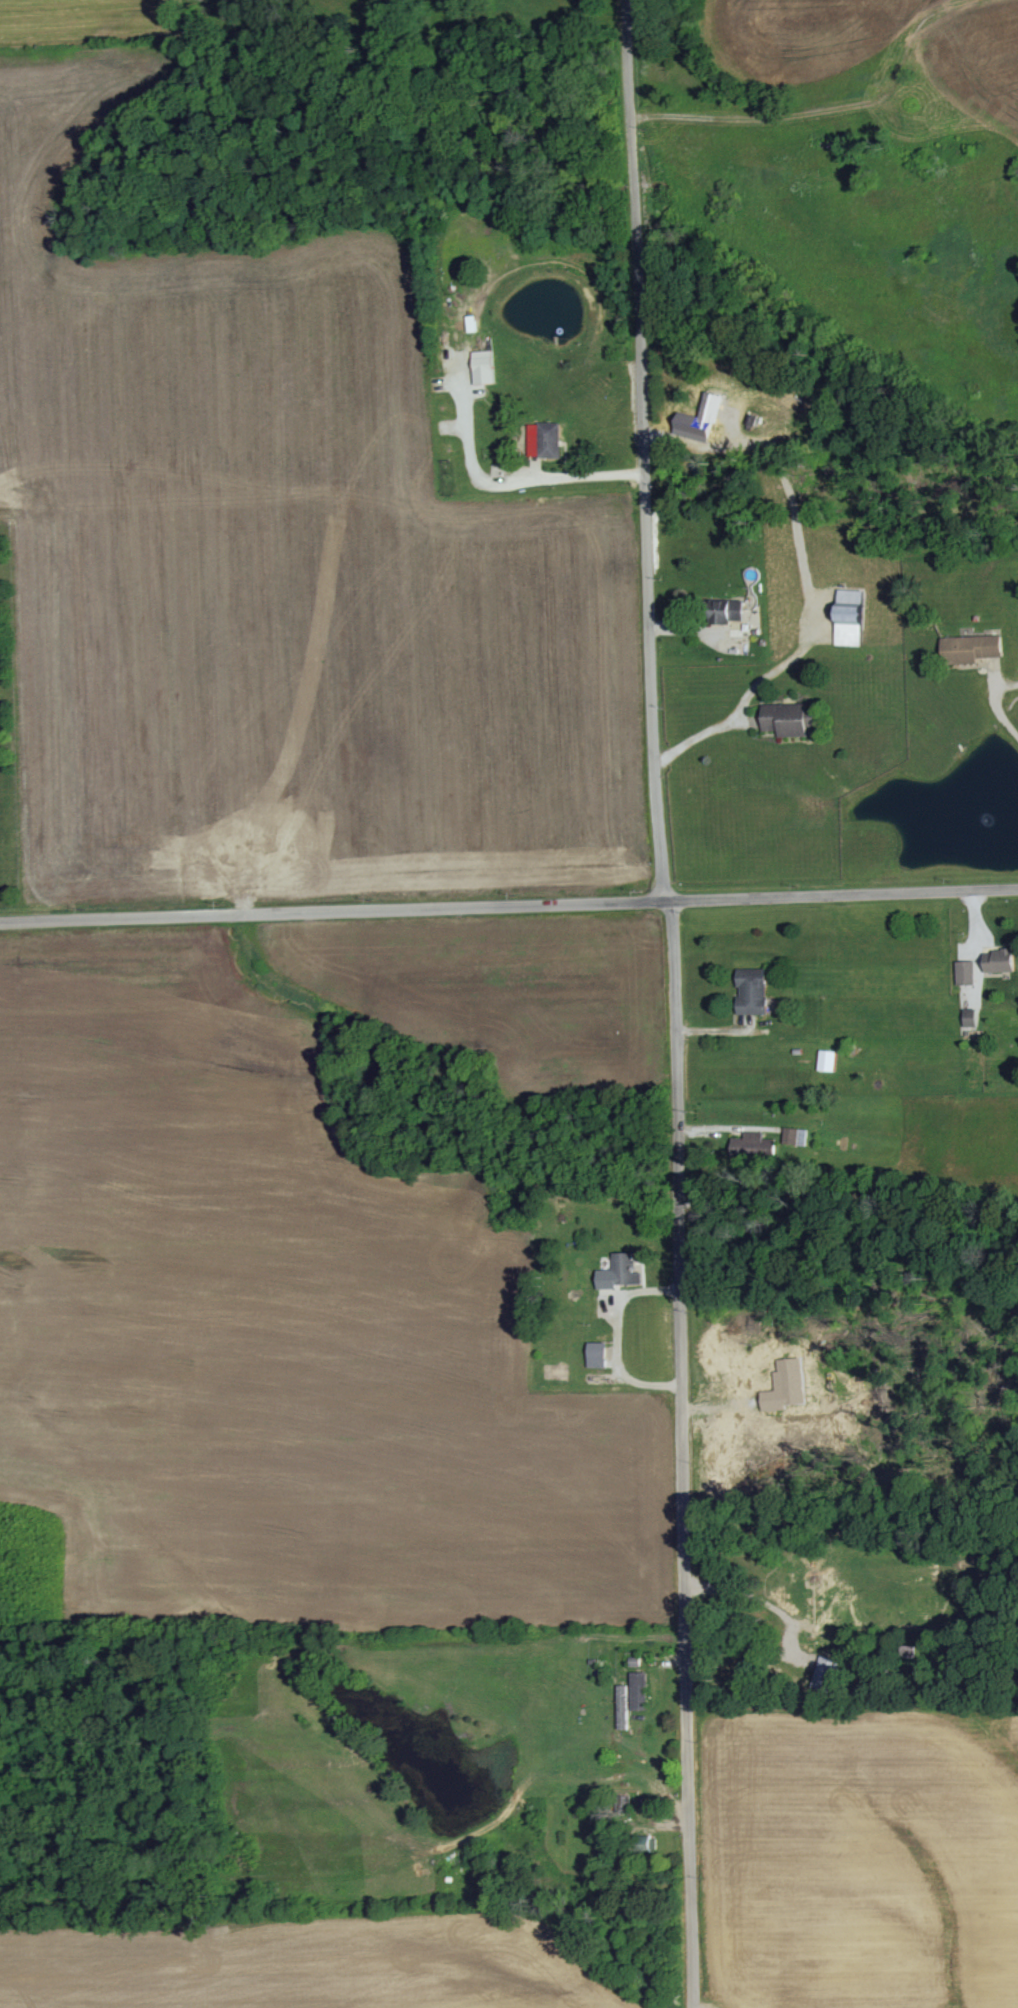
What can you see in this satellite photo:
road: (756, 118)
building: (485, 368)
building: (693, 427)
building: (546, 440)
road: (648, 453)
building: (728, 611)
building: (851, 618)
building: (972, 649)
road: (1002, 714)
building: (787, 719)
road: (711, 747)
road: (847, 903)
road: (671, 907)
road: (332, 912)
building: (1003, 961)
building: (967, 973)
building: (753, 992)
building: (971, 1018)
building: (828, 1061)
building: (620, 1273)
building: (598, 1355)
building: (792, 1374)
road: (683, 1457)
building: (827, 1675)
building: (640, 1692)
building: (623, 1708)

